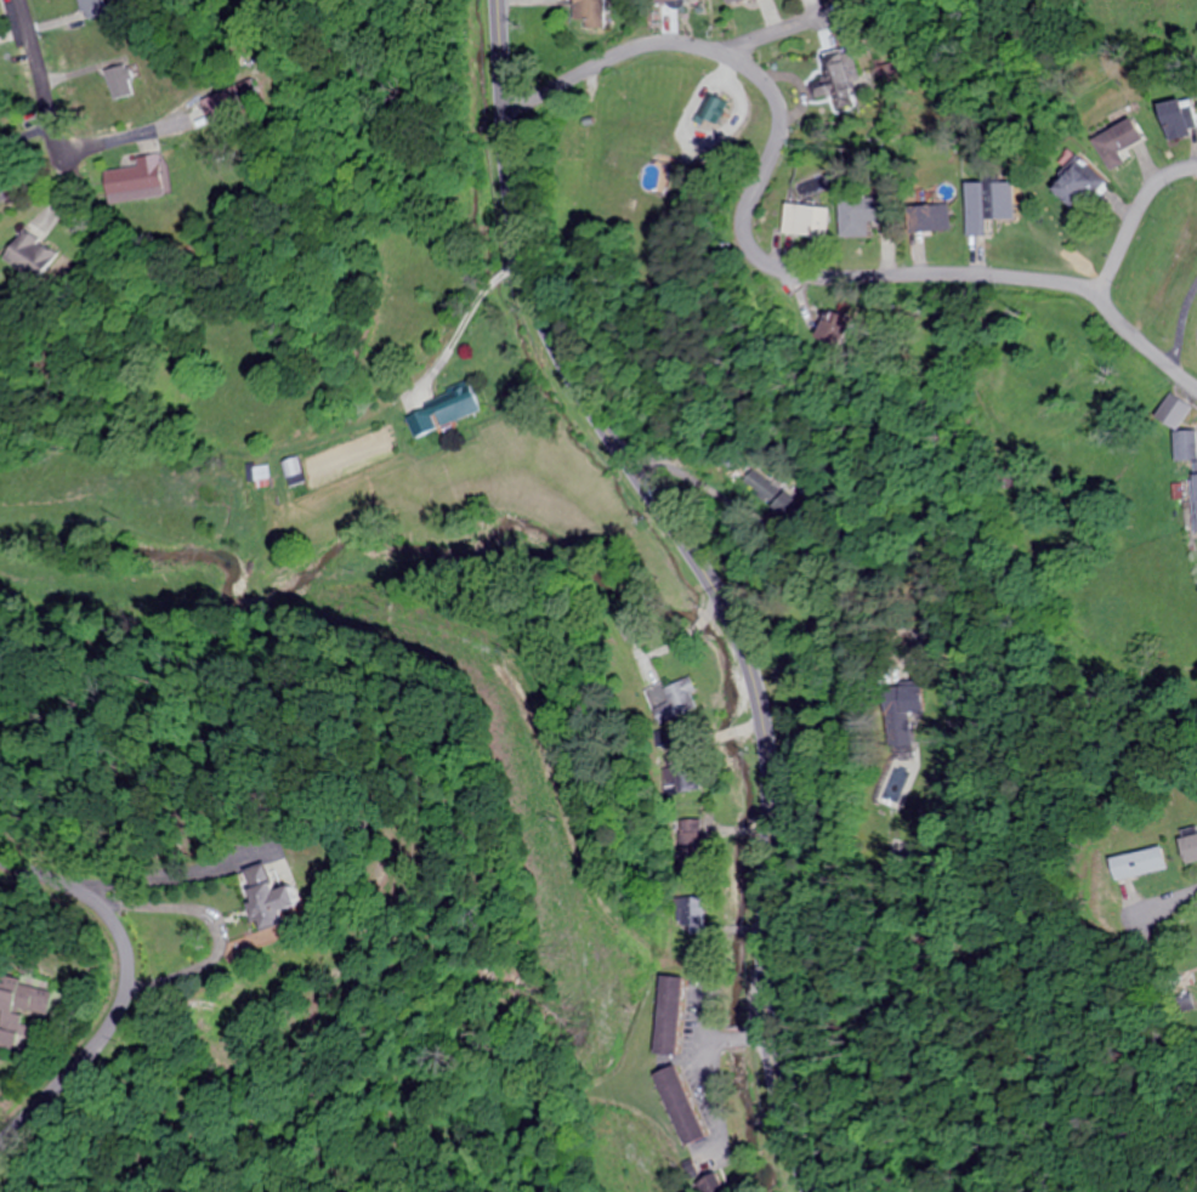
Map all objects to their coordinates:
building: (93, 7)
building: (589, 12)
road: (658, 41)
road: (36, 73)
building: (844, 73)
building: (120, 81)
building: (226, 100)
building: (1176, 118)
building: (1116, 141)
building: (132, 177)
building: (1072, 181)
building: (986, 204)
building: (860, 214)
building: (930, 216)
road: (1133, 217)
building: (804, 221)
road: (810, 273)
building: (829, 327)
road: (1145, 342)
building: (439, 409)
building: (1172, 410)
building: (1184, 444)
building: (290, 470)
building: (1195, 494)
road: (705, 577)
building: (1187, 846)
building: (1136, 861)
building: (268, 892)
road: (1172, 899)
road: (120, 984)
building: (10, 1021)

